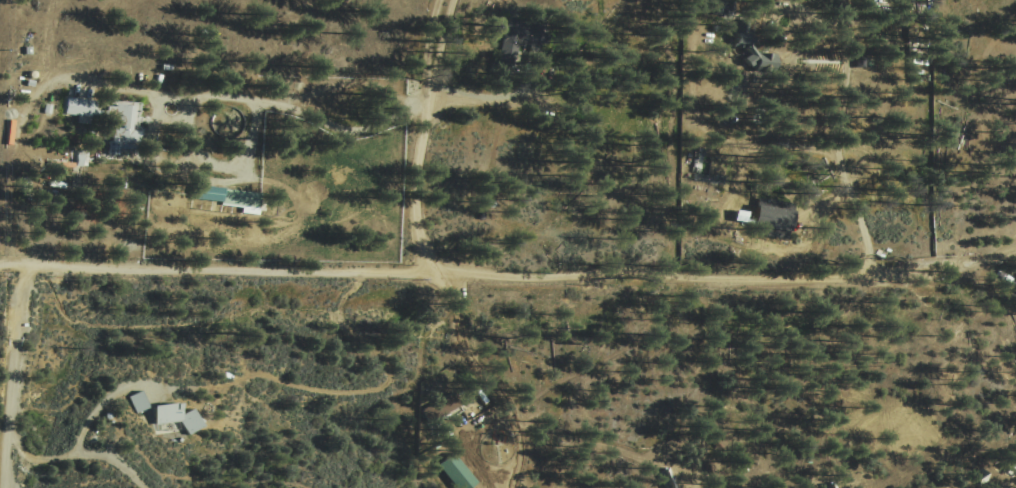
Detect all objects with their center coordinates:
building: (518, 34)
building: (759, 61)
road: (206, 97)
road: (493, 99)
building: (105, 119)
road: (420, 134)
road: (842, 168)
building: (227, 198)
building: (771, 217)
road: (975, 263)
road: (468, 272)
road: (12, 376)
road: (498, 389)
road: (368, 390)
building: (136, 403)
building: (169, 419)
road: (87, 432)
road: (114, 462)
building: (454, 473)
building: (1010, 479)

